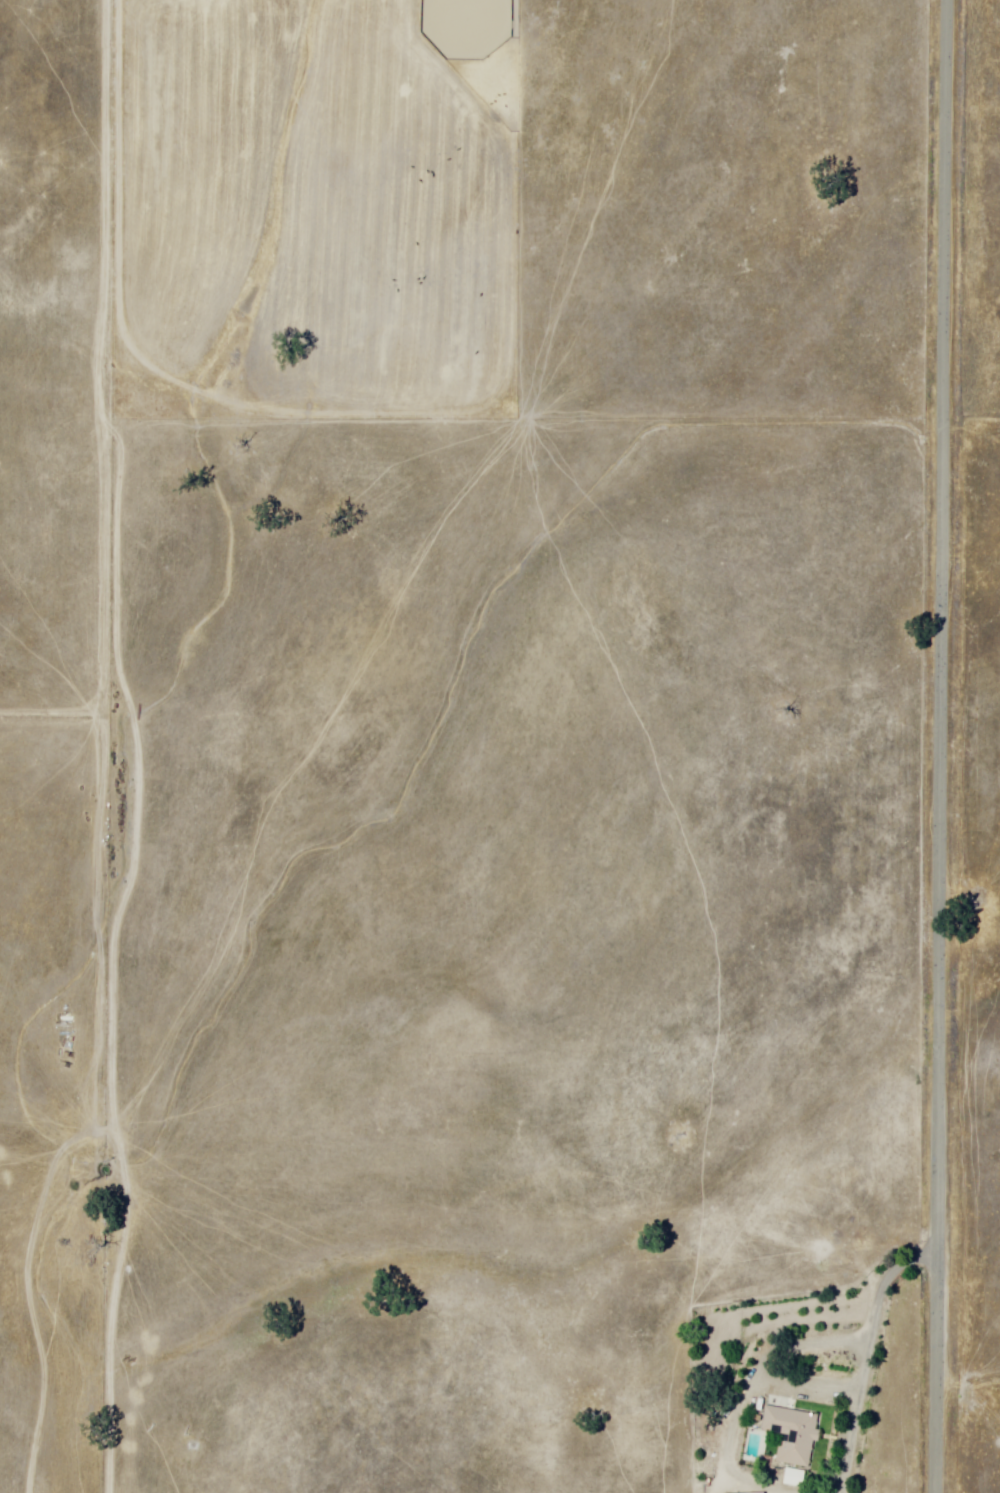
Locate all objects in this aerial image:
road: (943, 746)
building: (791, 1435)
building: (792, 1478)

